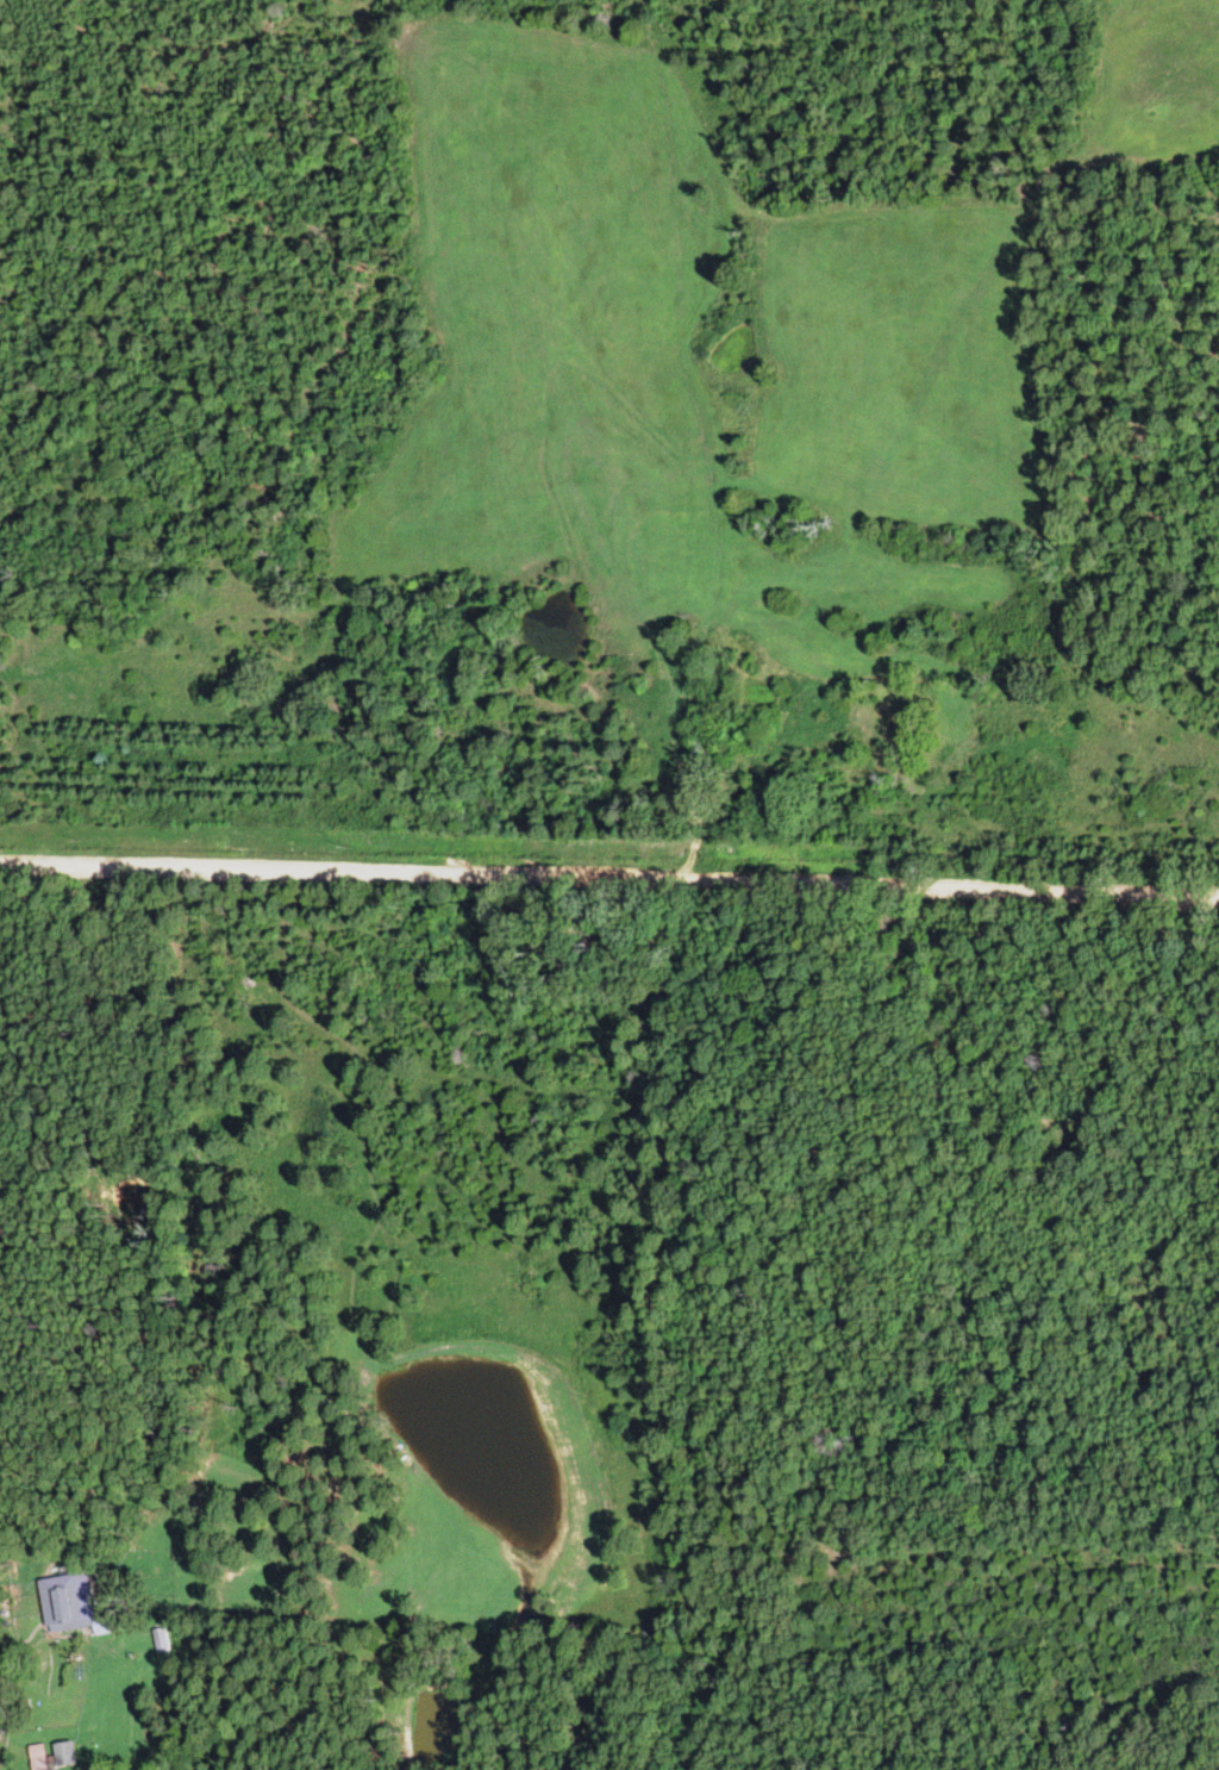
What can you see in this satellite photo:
road: (609, 873)
building: (76, 1603)
building: (165, 1639)
building: (71, 1752)

